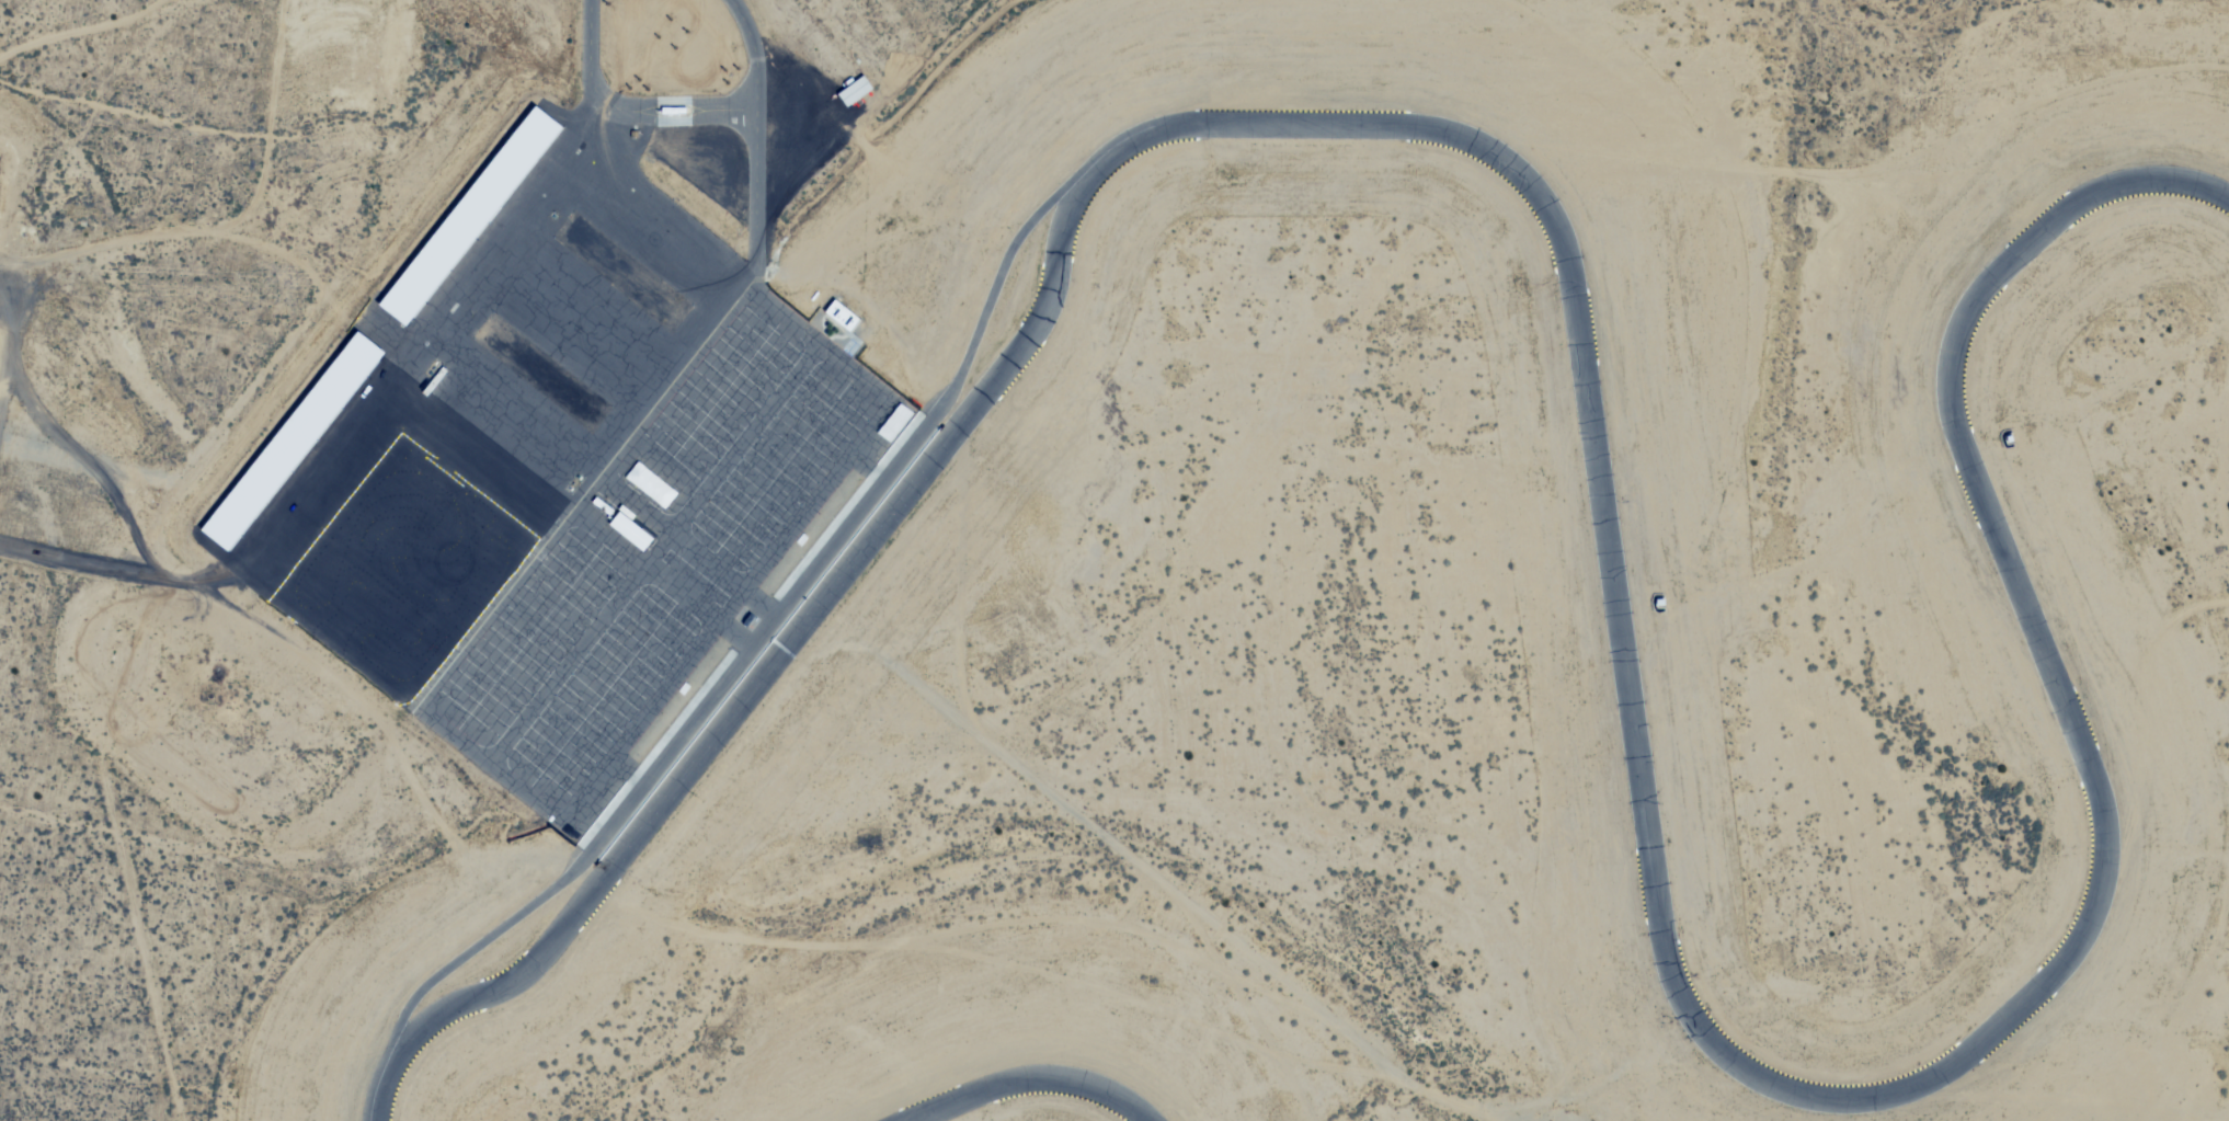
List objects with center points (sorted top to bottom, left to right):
road: (590, 62)
road: (751, 99)
road: (667, 102)
building: (679, 111)
road: (729, 111)
road: (752, 119)
road: (667, 121)
road: (756, 136)
building: (482, 214)
building: (849, 316)
road: (821, 342)
building: (301, 442)
building: (659, 488)
raceway: (1599, 488)
road: (586, 491)
building: (639, 530)
road: (671, 535)
road: (655, 553)
parking lot: (662, 559)
road: (648, 563)
raceway: (789, 599)
raceway: (759, 605)
road: (728, 613)
raceway: (736, 634)
road: (490, 765)
raceway: (1031, 1078)

